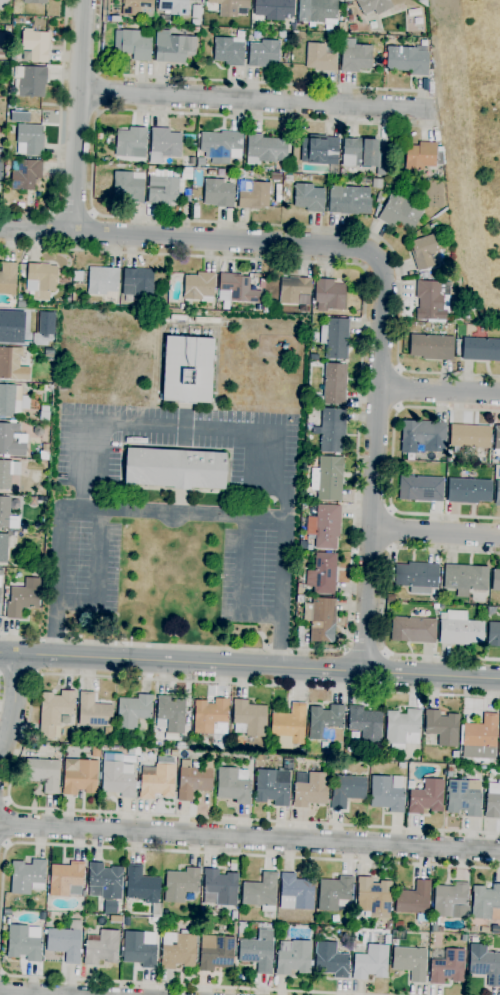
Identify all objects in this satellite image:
building: (34, 1)
building: (373, 6)
building: (174, 7)
building: (229, 7)
building: (137, 8)
building: (274, 9)
building: (318, 11)
building: (113, 19)
building: (350, 19)
building: (371, 25)
building: (352, 28)
building: (196, 30)
building: (7, 31)
building: (282, 35)
building: (295, 43)
building: (36, 45)
building: (132, 45)
building: (173, 47)
building: (228, 51)
building: (264, 54)
building: (285, 56)
building: (355, 57)
building: (13, 58)
building: (320, 58)
building: (378, 60)
building: (407, 61)
building: (1, 65)
road: (225, 81)
building: (32, 82)
road: (98, 91)
road: (421, 92)
road: (254, 99)
road: (77, 115)
road: (429, 126)
building: (2, 130)
road: (59, 131)
building: (29, 140)
building: (131, 143)
building: (163, 145)
park: (470, 145)
building: (221, 146)
building: (265, 149)
building: (322, 150)
building: (8, 151)
building: (364, 154)
building: (423, 156)
building: (192, 161)
building: (200, 162)
building: (109, 166)
building: (120, 166)
building: (1, 169)
building: (286, 169)
building: (211, 172)
building: (26, 174)
building: (288, 178)
building: (376, 184)
building: (129, 186)
building: (163, 187)
building: (218, 193)
building: (253, 195)
building: (308, 198)
building: (378, 198)
building: (6, 200)
building: (349, 200)
building: (20, 205)
road: (72, 211)
building: (195, 212)
building: (400, 212)
road: (139, 217)
building: (424, 252)
road: (383, 274)
building: (78, 276)
building: (8, 278)
building: (41, 278)
building: (102, 280)
building: (137, 283)
building: (261, 283)
building: (199, 287)
building: (237, 289)
building: (293, 289)
building: (329, 294)
building: (429, 301)
building: (22, 304)
building: (182, 307)
building: (9, 326)
building: (336, 339)
building: (432, 347)
building: (481, 349)
building: (12, 365)
building: (188, 369)
building: (334, 384)
road: (399, 388)
road: (439, 391)
building: (10, 400)
road: (177, 427)
building: (330, 430)
building: (423, 436)
building: (469, 436)
building: (497, 438)
building: (10, 441)
road: (357, 448)
road: (391, 462)
building: (495, 462)
building: (174, 469)
building: (8, 473)
building: (327, 479)
building: (420, 488)
building: (468, 491)
building: (497, 493)
road: (184, 514)
building: (7, 515)
building: (324, 526)
road: (392, 530)
road: (435, 533)
building: (305, 545)
building: (3, 548)
building: (1, 572)
building: (322, 574)
road: (97, 576)
building: (417, 577)
building: (465, 579)
building: (0, 580)
building: (496, 580)
road: (243, 585)
building: (300, 589)
building: (23, 598)
road: (384, 604)
building: (435, 606)
building: (490, 610)
building: (321, 619)
building: (460, 629)
building: (413, 630)
building: (493, 634)
road: (364, 651)
road: (249, 666)
road: (17, 677)
road: (12, 704)
building: (54, 712)
building: (93, 712)
building: (132, 712)
building: (170, 714)
building: (211, 717)
building: (248, 718)
building: (325, 723)
building: (365, 723)
building: (289, 725)
building: (442, 727)
building: (402, 728)
building: (107, 732)
building: (499, 732)
building: (354, 735)
building: (480, 738)
building: (323, 745)
building: (181, 746)
building: (95, 752)
building: (133, 752)
road: (18, 753)
building: (455, 754)
building: (211, 755)
building: (385, 755)
building: (251, 757)
building: (260, 758)
building: (137, 759)
building: (449, 768)
building: (43, 774)
building: (117, 776)
building: (81, 778)
building: (193, 780)
building: (158, 783)
building: (274, 784)
building: (234, 785)
building: (310, 789)
building: (347, 790)
building: (386, 795)
building: (426, 797)
building: (463, 799)
building: (492, 801)
road: (7, 823)
road: (250, 837)
road: (204, 853)
building: (27, 877)
building: (66, 879)
building: (104, 881)
building: (180, 884)
building: (219, 888)
building: (143, 889)
building: (298, 890)
building: (260, 892)
building: (335, 894)
building: (373, 897)
building: (414, 901)
building: (451, 901)
building: (484, 901)
building: (48, 915)
building: (43, 916)
building: (233, 916)
building: (338, 919)
building: (126, 921)
building: (398, 924)
building: (388, 925)
building: (234, 928)
building: (241, 928)
building: (434, 928)
building: (473, 929)
building: (484, 929)
building: (316, 937)
building: (387, 939)
building: (66, 941)
building: (393, 941)
building: (23, 944)
building: (102, 948)
building: (177, 950)
building: (138, 951)
building: (257, 951)
building: (215, 952)
building: (293, 957)
building: (330, 960)
building: (370, 963)
building: (410, 963)
building: (484, 964)
building: (448, 967)
road: (0, 975)
road: (180, 985)
road: (26, 993)

